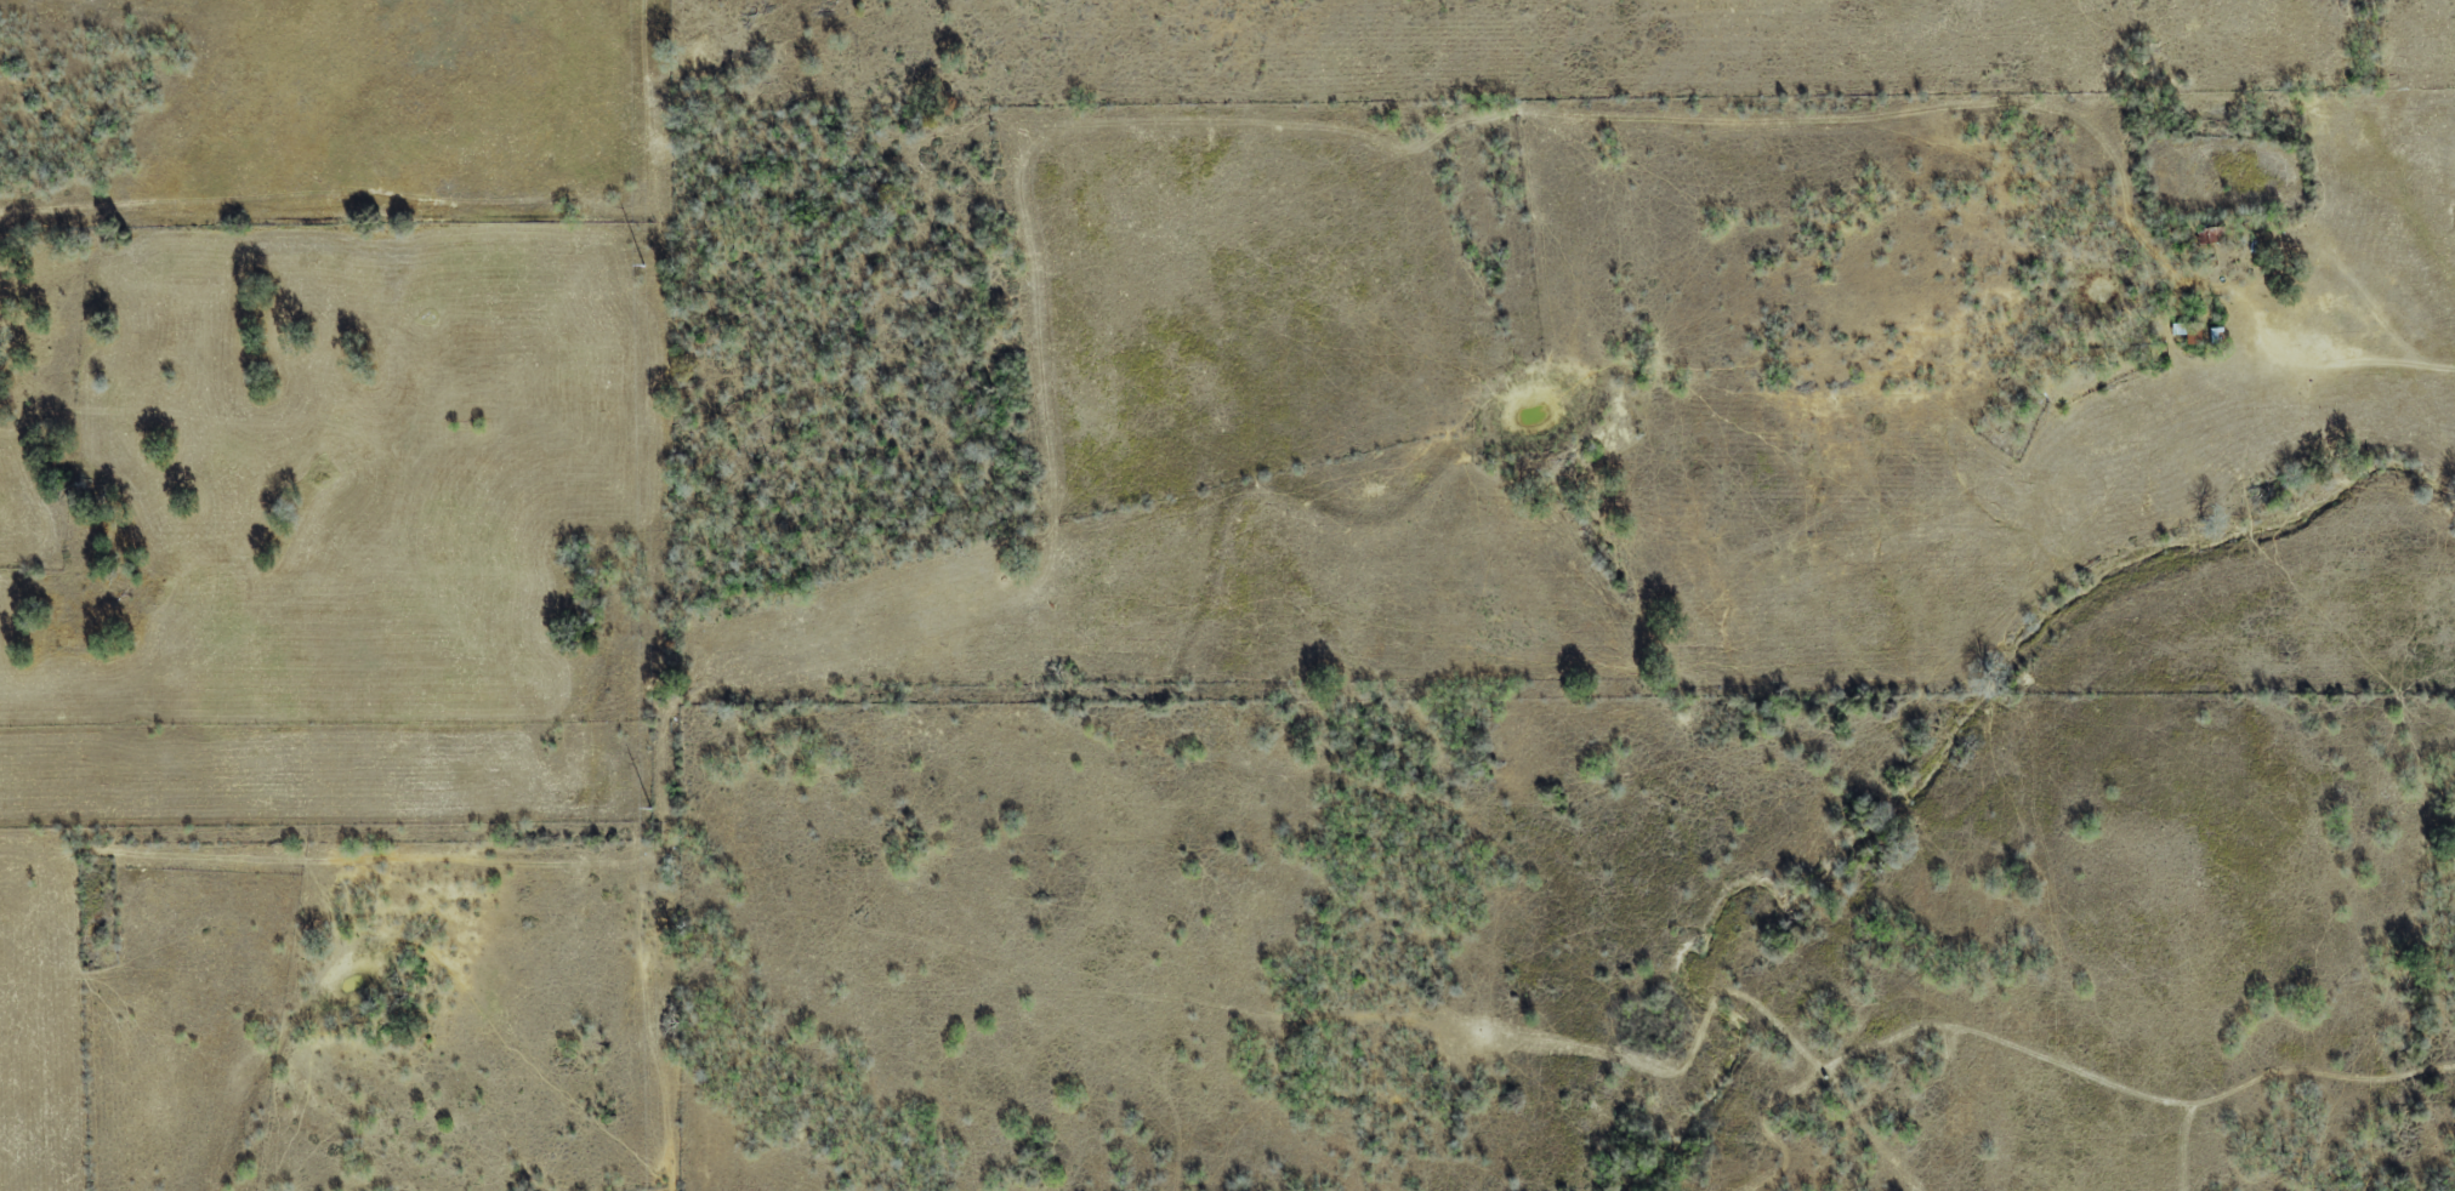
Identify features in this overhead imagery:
power tower: (644, 266)
power tower: (650, 809)

